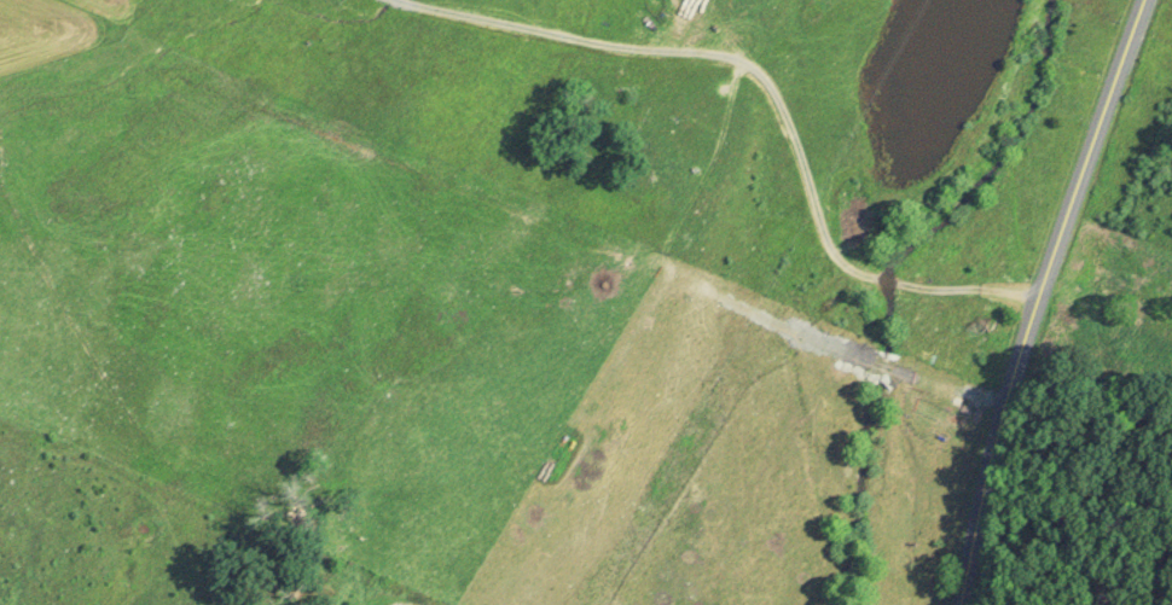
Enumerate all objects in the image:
road: (1046, 299)

